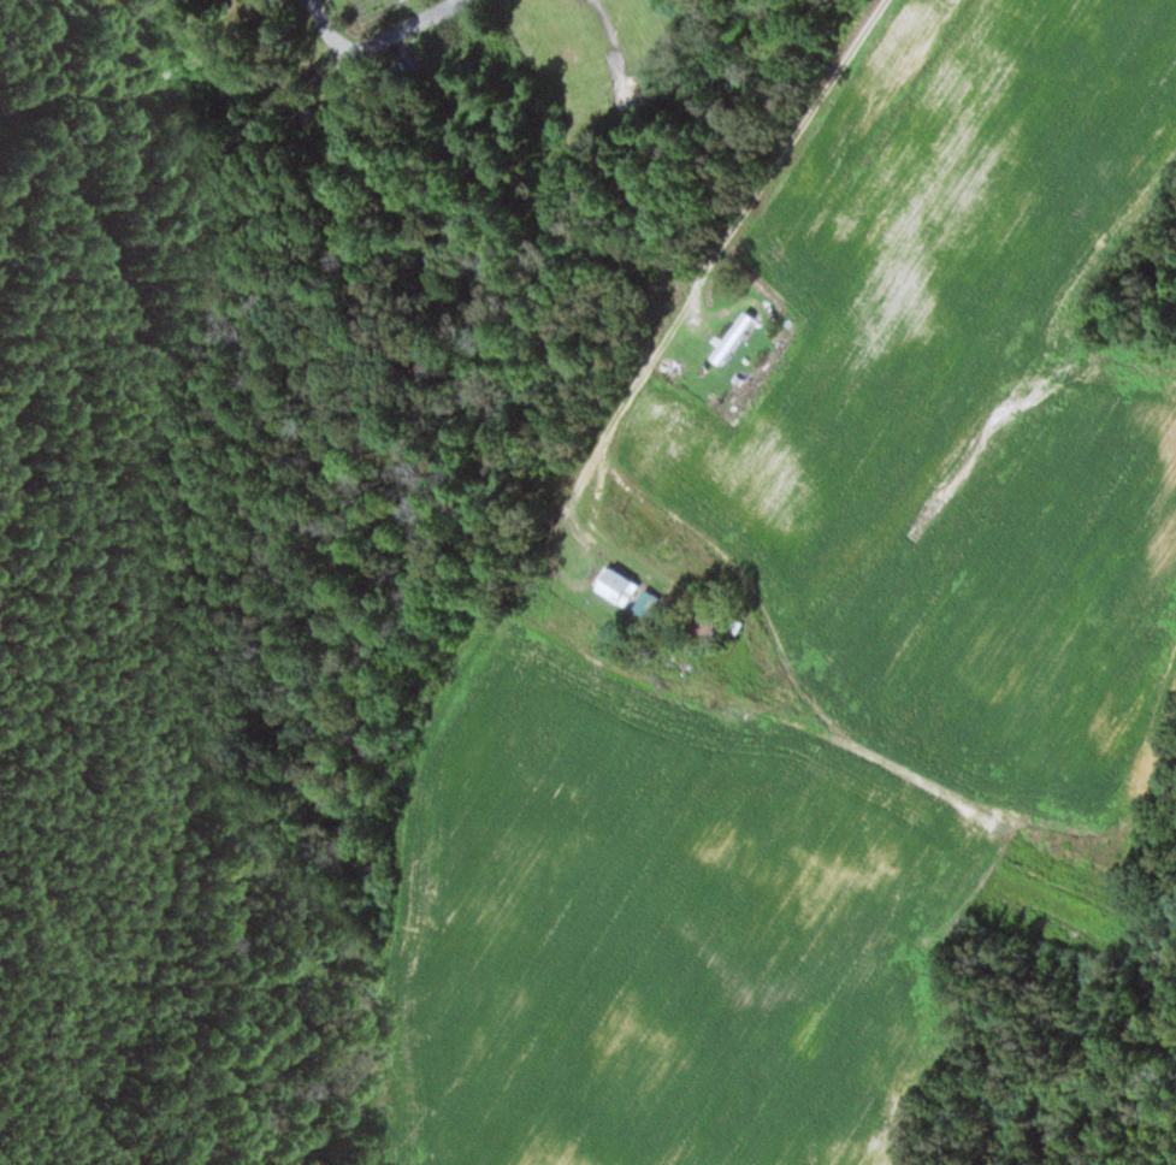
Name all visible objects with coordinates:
road: (330, 28)
road: (400, 28)
road: (614, 36)
building: (224, 45)
building: (337, 119)
road: (711, 260)
building: (735, 337)
building: (625, 586)
building: (651, 603)

